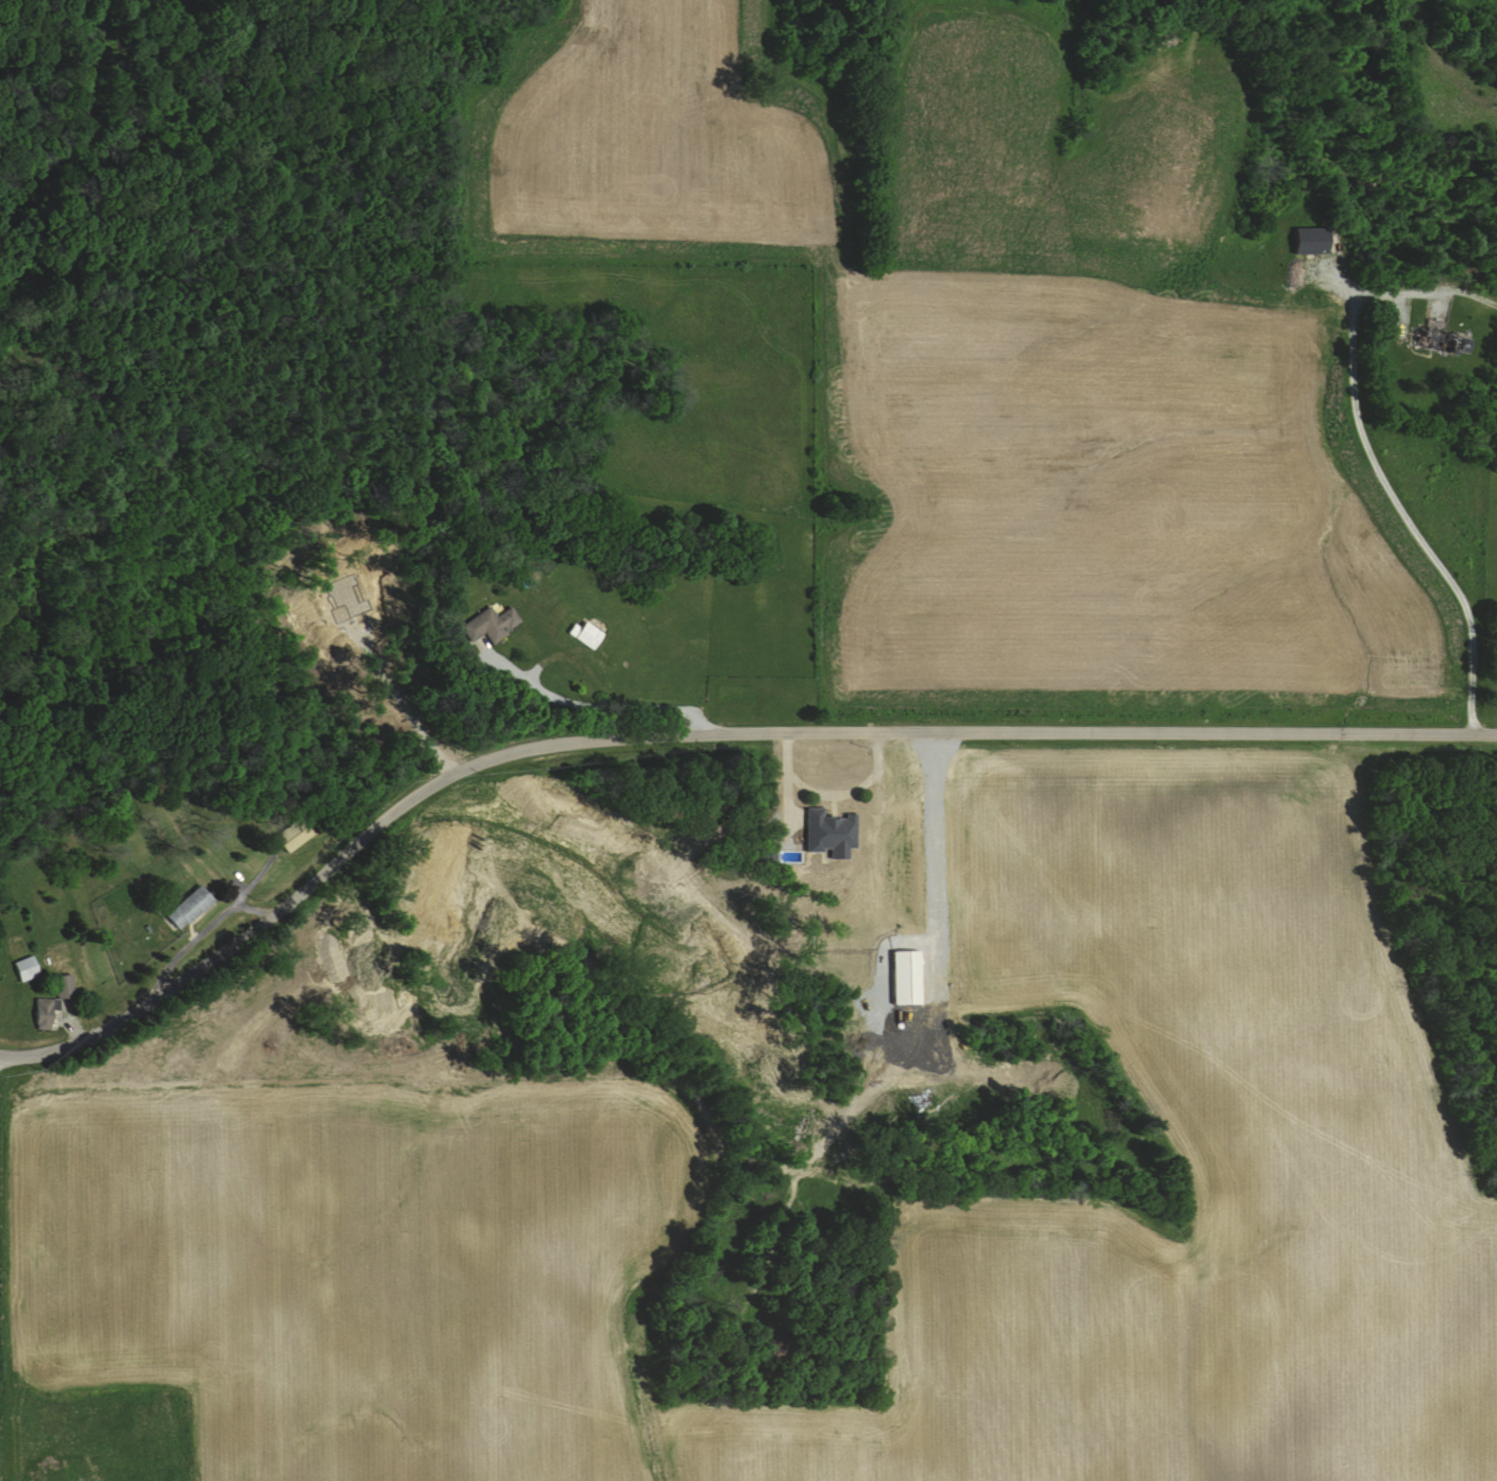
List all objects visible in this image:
building: (1316, 240)
building: (1442, 335)
road: (1371, 461)
building: (491, 624)
road: (587, 707)
road: (700, 732)
building: (833, 832)
building: (193, 907)
building: (30, 968)
building: (910, 977)
building: (50, 1013)

